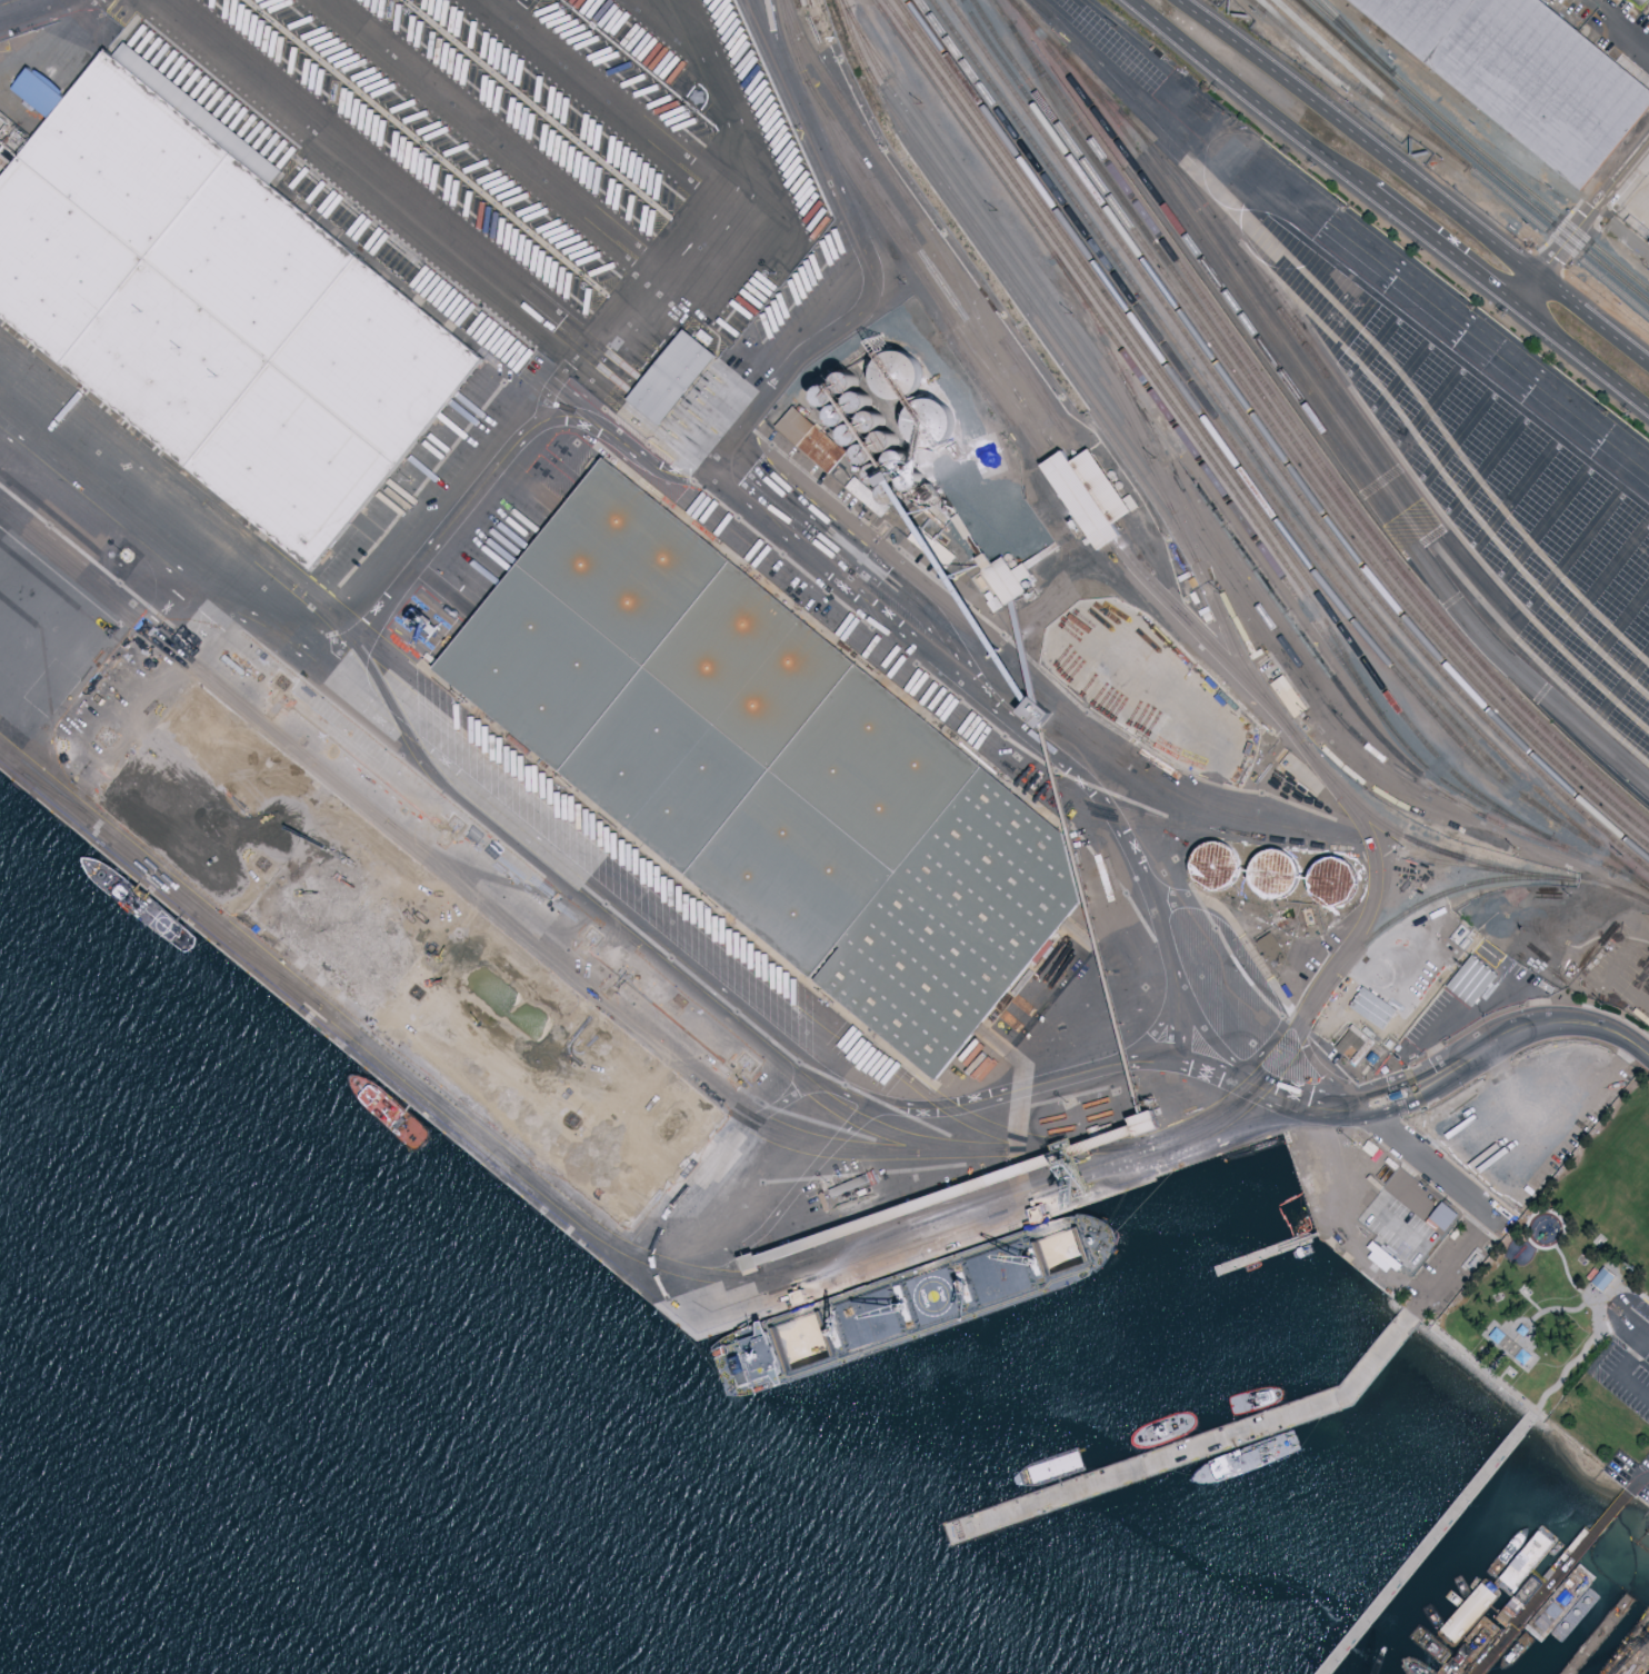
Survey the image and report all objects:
building: (1642, 3)
road: (1593, 4)
railway: (1257, 6)
road: (37, 12)
building: (1648, 14)
road: (1625, 30)
railway: (1355, 36)
railway: (1333, 61)
road: (571, 68)
building: (1525, 74)
railway: (1355, 87)
road: (1249, 94)
railway: (1461, 98)
railway: (1423, 102)
railway: (1415, 107)
railway: (1483, 140)
railway: (1462, 161)
road: (1412, 181)
railway: (903, 190)
railway: (986, 225)
road: (1582, 226)
railway: (890, 228)
road: (1623, 229)
railway: (1595, 247)
road: (1442, 248)
railway: (1239, 250)
railway: (1592, 257)
railway: (1016, 282)
railway: (1007, 287)
building: (217, 311)
railway: (1282, 325)
railway: (1128, 358)
railway: (1459, 358)
road: (1582, 358)
railway: (1368, 373)
building: (671, 377)
building: (896, 377)
silo: (896, 377)
building: (845, 382)
silo: (845, 382)
building: (825, 396)
silo: (825, 396)
road: (561, 399)
building: (858, 401)
silo: (858, 401)
railway: (1311, 412)
building: (839, 416)
silo: (839, 416)
railway: (1037, 420)
building: (871, 421)
silo: (871, 421)
road: (760, 422)
railway: (1222, 424)
building: (928, 425)
silo: (928, 425)
railway: (1297, 429)
building: (851, 435)
silo: (851, 435)
railway: (1340, 436)
railway: (1206, 437)
building: (816, 438)
building: (885, 441)
silo: (885, 441)
railway: (1286, 445)
railway: (1533, 447)
railway: (1301, 450)
railway: (1279, 451)
building: (866, 455)
silo: (866, 455)
railway: (1272, 456)
railway: (1565, 458)
building: (899, 459)
silo: (899, 459)
railway: (1238, 464)
railway: (1502, 466)
railway: (1263, 467)
building: (879, 474)
silo: (879, 474)
building: (912, 479)
silo: (912, 479)
road: (714, 481)
railway: (1230, 487)
building: (892, 494)
silo: (892, 494)
building: (1083, 499)
railway: (1552, 506)
railway: (1586, 520)
railway: (1179, 526)
railway: (256, 547)
road: (764, 547)
railway: (1577, 548)
building: (1008, 572)
railway: (1560, 594)
building: (22, 597)
railway: (1285, 605)
railway: (1269, 618)
railway: (338, 620)
railway: (336, 621)
railway: (1570, 630)
road: (249, 660)
railway: (1591, 684)
road: (142, 685)
building: (1032, 711)
railway: (526, 761)
building: (774, 770)
railway: (54, 790)
railway: (1460, 857)
building: (1215, 866)
storage tank: (1215, 866)
railway: (1462, 866)
building: (1273, 874)
storage tank: (1273, 874)
railway: (477, 875)
building: (1335, 880)
storage tank: (1335, 880)
railway: (162, 886)
road: (574, 896)
building: (412, 958)
railway: (260, 959)
building: (1371, 1007)
railway: (641, 1028)
road: (1518, 1033)
building: (1353, 1043)
road: (428, 1092)
road: (1372, 1105)
railway: (729, 1109)
building: (1156, 1120)
park: (1619, 1185)
building: (1431, 1199)
road: (1475, 1203)
road: (1376, 1205)
road: (1551, 1213)
building: (1441, 1216)
building: (1431, 1225)
parking lot: (1399, 1228)
road: (1298, 1239)
railway: (631, 1250)
pier: (1260, 1255)
building: (1382, 1256)
building: (1601, 1279)
road: (1576, 1288)
road: (1611, 1291)
park: (1573, 1292)
road: (1559, 1308)
road: (1633, 1325)
building: (1521, 1331)
building: (1495, 1336)
road: (1526, 1347)
parking lot: (1627, 1354)
building: (1521, 1357)
road: (1573, 1362)
road: (1496, 1363)
road: (1621, 1371)
road: (1487, 1372)
pier: (1188, 1445)
parking lot: (1629, 1475)
road: (1637, 1482)
pier: (1427, 1543)
pier: (1553, 1583)
building: (1572, 1594)
building: (1471, 1611)
pier: (1609, 1626)
building: (1486, 1631)

